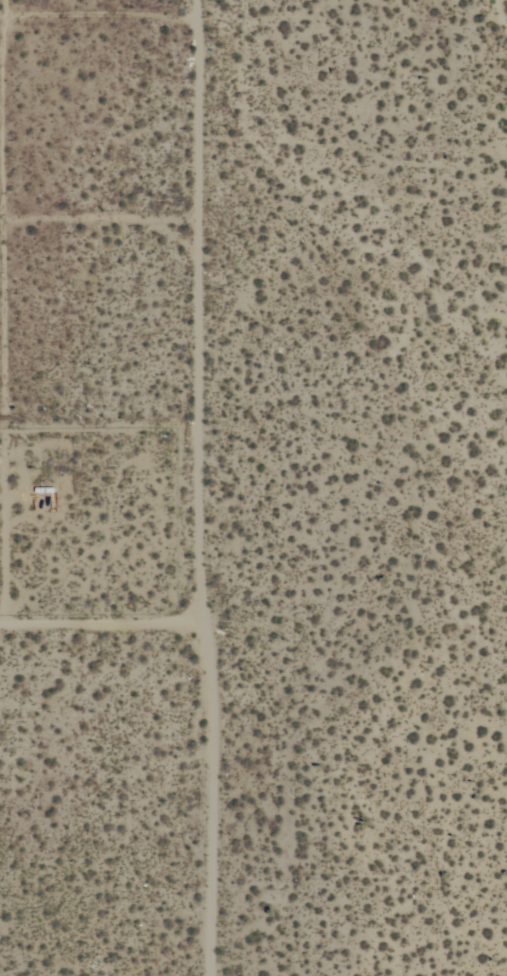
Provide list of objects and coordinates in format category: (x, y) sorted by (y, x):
road: (213, 487)
road: (109, 634)

